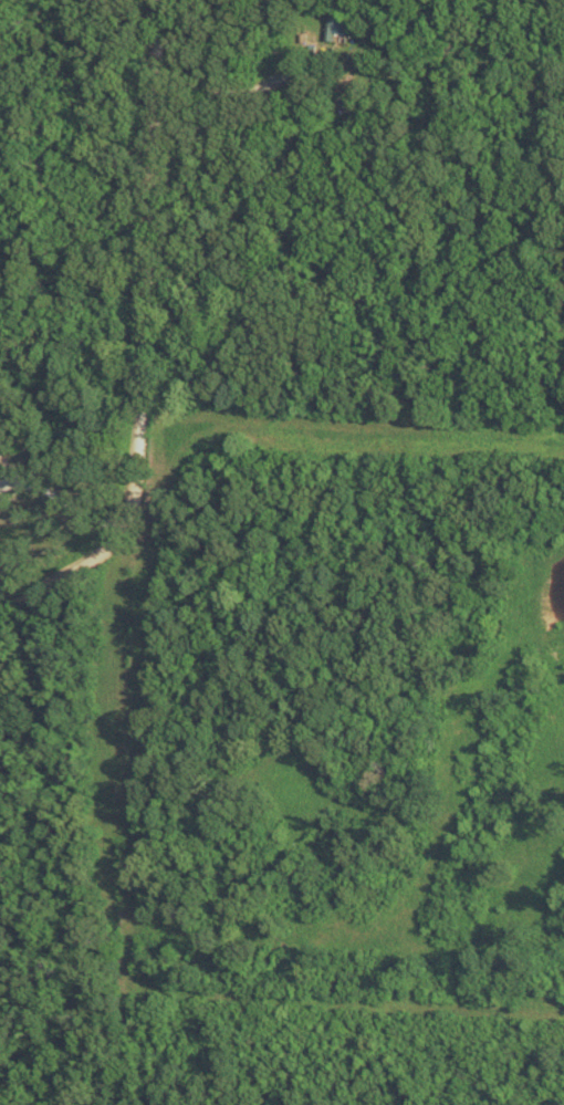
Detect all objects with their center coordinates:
road: (127, 337)

